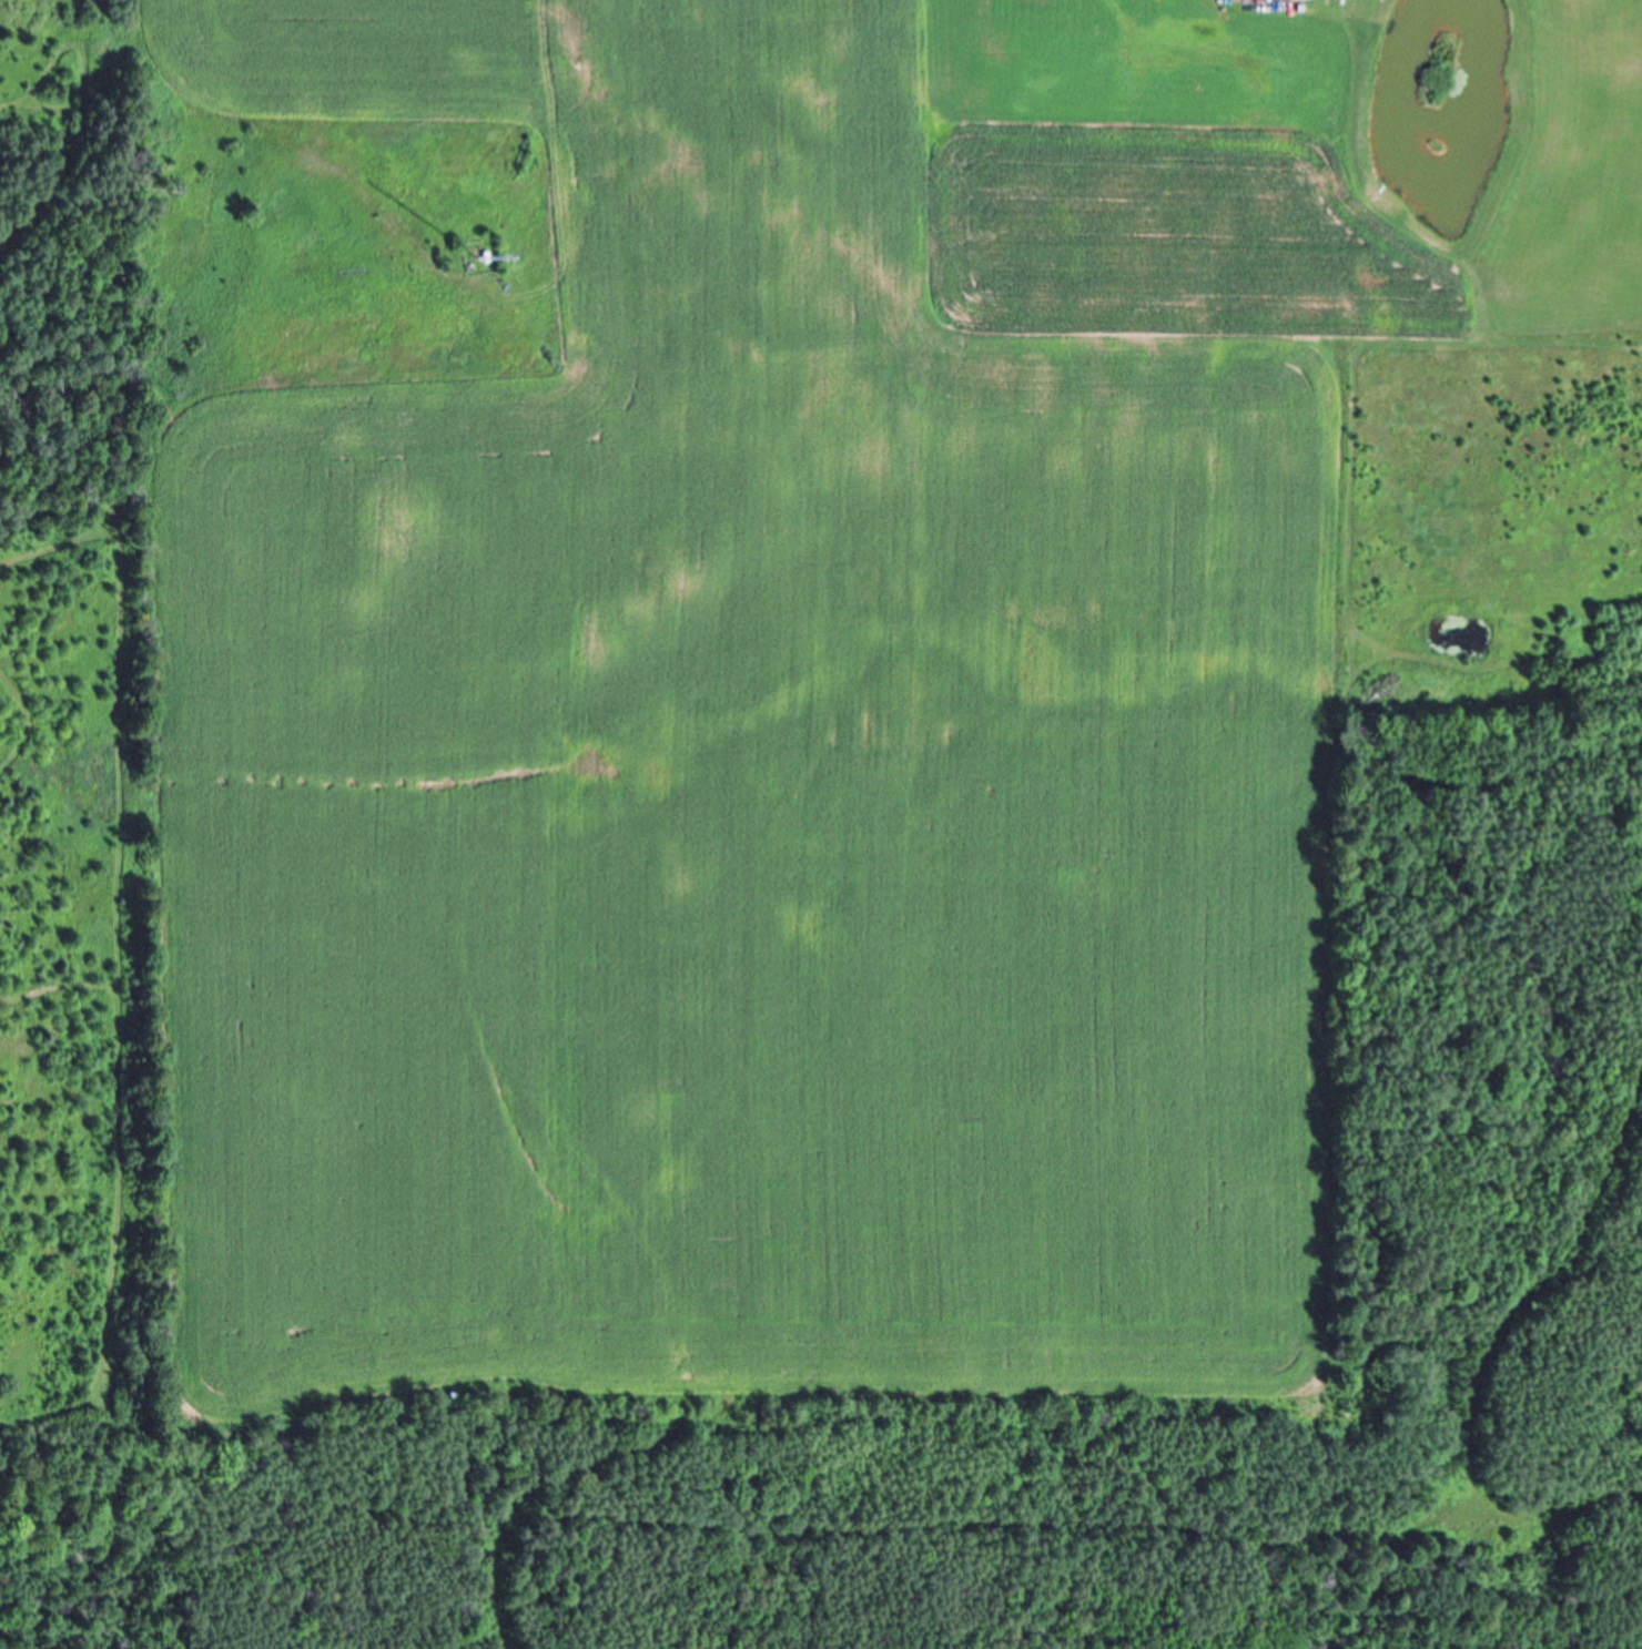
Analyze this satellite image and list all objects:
building: (1299, 0)
crop: (726, 723)

